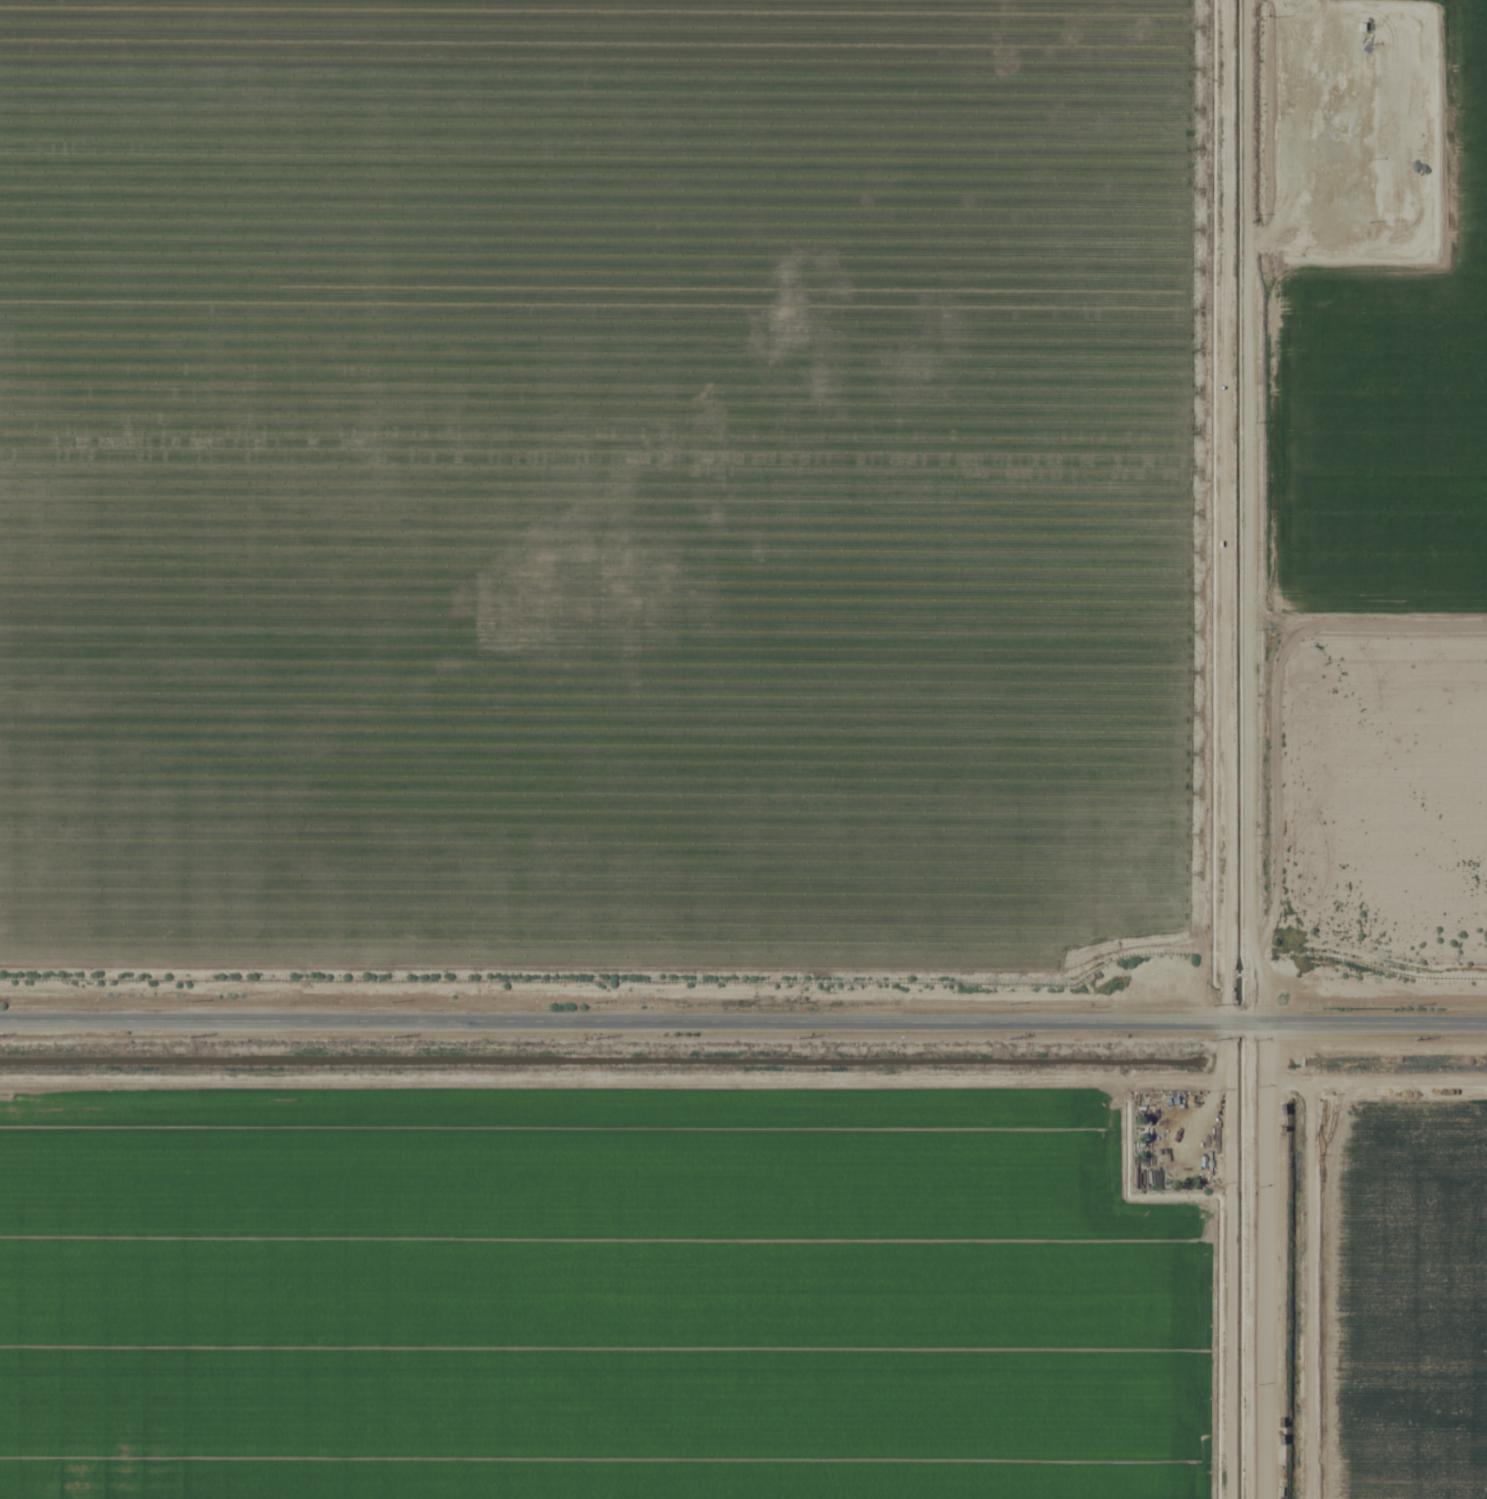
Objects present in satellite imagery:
road: (1223, 510)
road: (743, 1019)
road: (1226, 1260)

